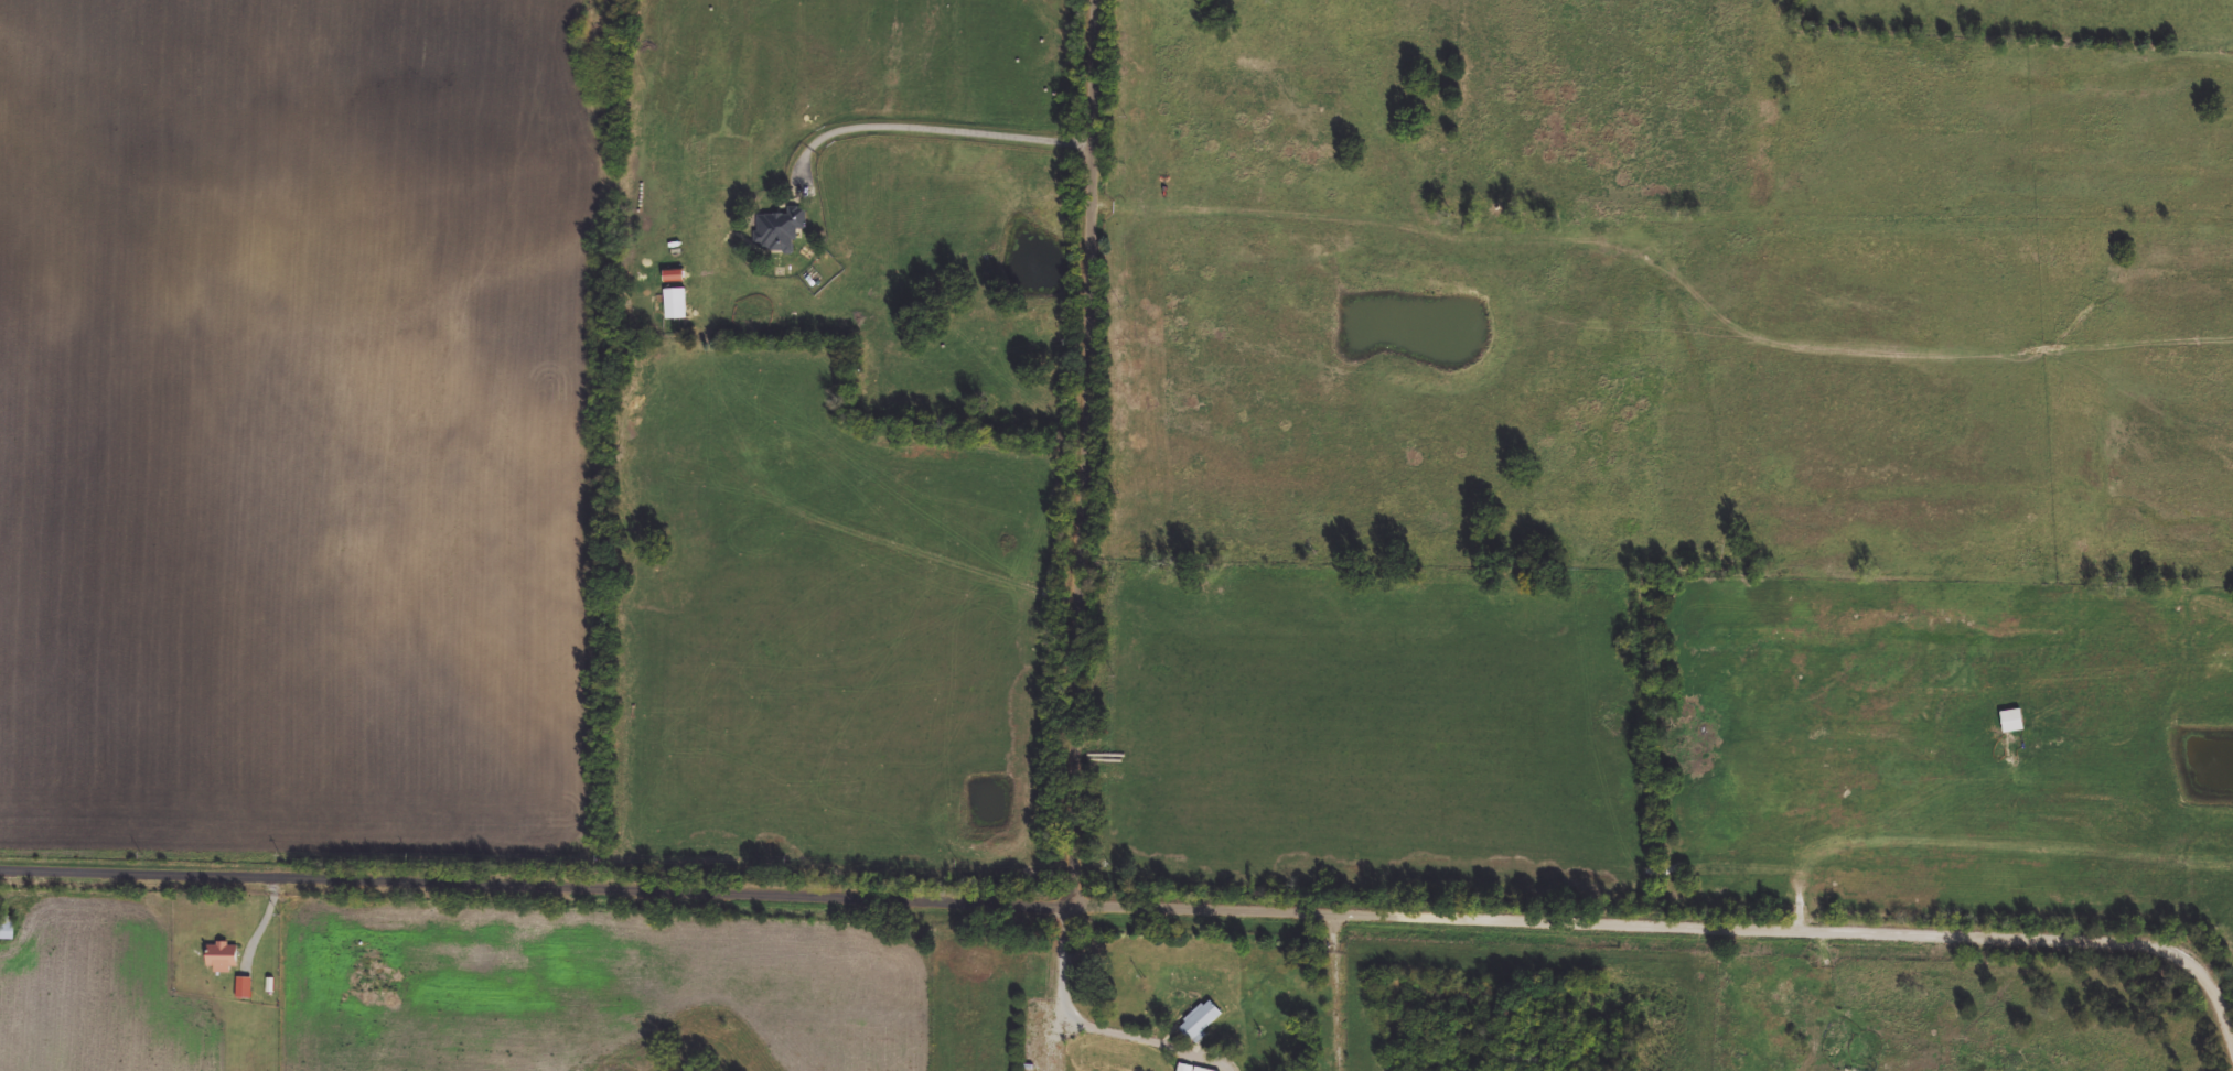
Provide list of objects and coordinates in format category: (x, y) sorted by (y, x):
road: (941, 130)
building: (780, 230)
building: (675, 278)
building: (675, 304)
road: (1084, 450)
building: (2012, 722)
road: (290, 870)
road: (827, 888)
road: (1677, 924)
building: (6, 928)
building: (224, 959)
building: (246, 989)
road: (1338, 989)
road: (1078, 1017)
building: (1200, 1021)
road: (1214, 1058)
building: (1190, 1068)

